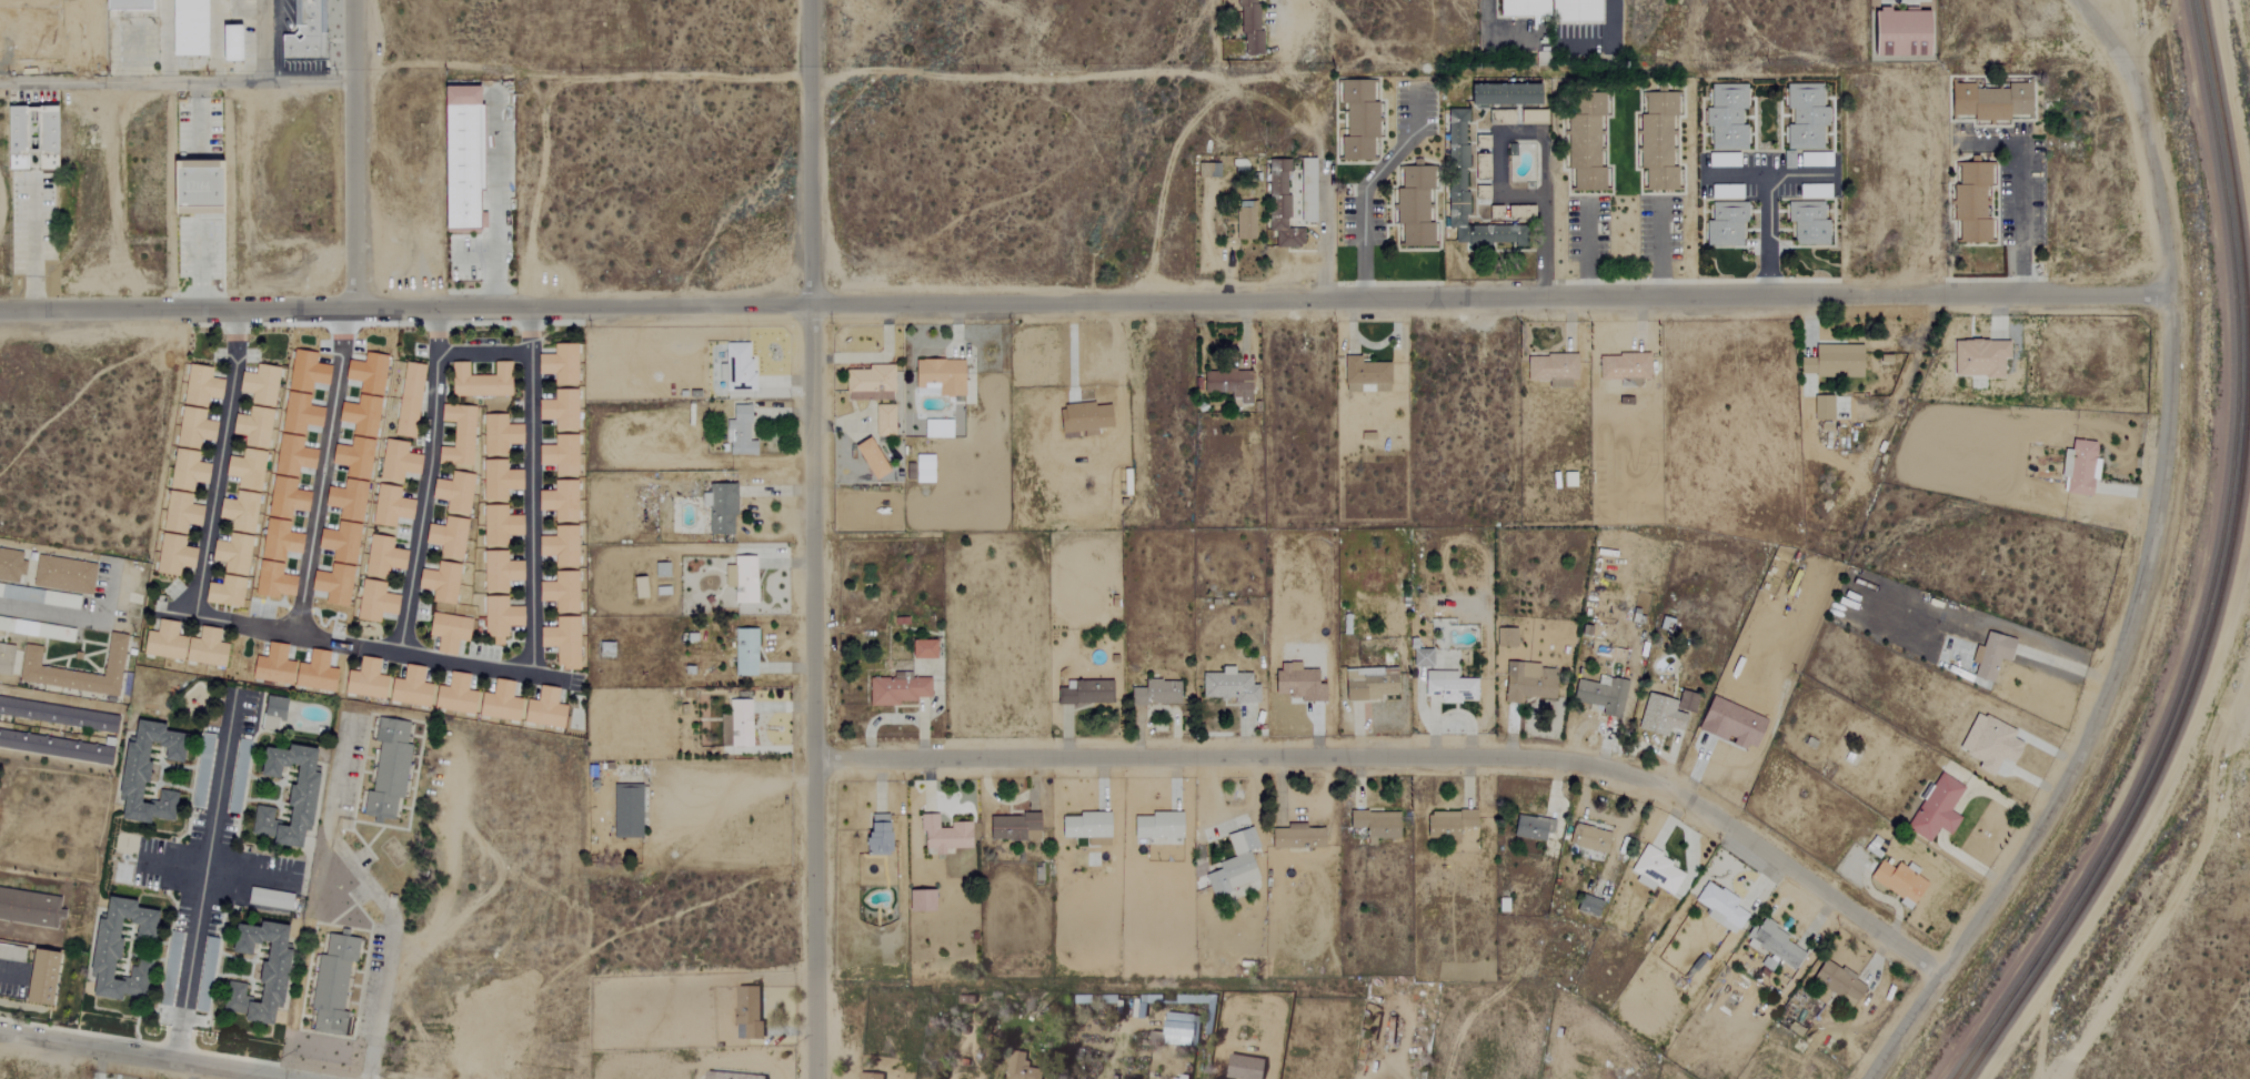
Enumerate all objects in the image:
building: (1549, 9)
road: (1273, 18)
building: (1247, 27)
building: (194, 28)
building: (1897, 32)
building: (309, 33)
building: (239, 43)
road: (1162, 71)
road: (175, 83)
road: (2236, 84)
building: (1499, 93)
building: (1989, 101)
building: (1530, 117)
building: (1725, 117)
building: (1804, 117)
road: (197, 118)
building: (1503, 118)
building: (1357, 121)
building: (38, 137)
building: (1583, 140)
building: (1656, 140)
building: (1479, 142)
road: (351, 154)
building: (470, 157)
building: (1814, 159)
building: (1720, 160)
building: (1455, 167)
building: (1479, 167)
road: (1767, 175)
building: (195, 184)
road: (1495, 184)
road: (1365, 185)
road: (2017, 189)
building: (1305, 190)
building: (1724, 191)
building: (1479, 192)
road: (498, 201)
building: (1970, 201)
building: (1412, 205)
building: (1278, 208)
building: (1493, 212)
building: (1518, 212)
road: (198, 215)
building: (1243, 220)
building: (1806, 222)
building: (1724, 223)
road: (1767, 238)
road: (32, 243)
parking lot: (197, 248)
road: (1587, 251)
road: (1657, 252)
road: (198, 265)
road: (1083, 302)
road: (1071, 351)
road: (481, 354)
building: (1977, 357)
building: (1831, 361)
building: (563, 364)
building: (736, 366)
building: (1623, 367)
building: (1550, 370)
building: (938, 375)
building: (1364, 375)
building: (484, 381)
building: (868, 383)
building: (1226, 383)
building: (263, 384)
building: (411, 400)
building: (1821, 409)
building: (563, 410)
building: (1081, 417)
building: (882, 420)
building: (935, 428)
building: (736, 432)
building: (502, 434)
building: (460, 435)
building: (563, 455)
building: (866, 457)
building: (400, 462)
road: (218, 464)
building: (2076, 467)
building: (923, 468)
building: (189, 471)
building: (502, 480)
building: (245, 488)
building: (456, 492)
railway: (2226, 497)
building: (563, 501)
railway: (2237, 501)
road: (2156, 502)
building: (393, 506)
building: (717, 508)
building: (502, 526)
building: (451, 536)
road: (811, 538)
building: (281, 541)
building: (563, 546)
building: (235, 554)
building: (385, 556)
building: (12, 566)
building: (659, 569)
building: (503, 572)
building: (66, 575)
building: (742, 579)
building: (275, 581)
building: (443, 582)
building: (337, 584)
building: (635, 587)
building: (228, 592)
building: (563, 592)
building: (378, 602)
road: (71, 616)
building: (503, 617)
building: (453, 632)
building: (1504, 637)
building: (566, 642)
building: (189, 645)
building: (922, 649)
road: (376, 652)
building: (743, 652)
building: (1991, 655)
building: (32, 656)
building: (6, 658)
building: (1420, 658)
road: (473, 665)
road: (2066, 667)
building: (297, 669)
road: (548, 677)
building: (369, 679)
building: (1527, 683)
building: (1296, 684)
building: (1366, 684)
building: (1227, 686)
building: (413, 687)
building: (1448, 688)
building: (894, 689)
building: (1084, 693)
building: (1154, 693)
building: (458, 695)
building: (1600, 696)
building: (1684, 702)
building: (503, 703)
building: (549, 709)
building: (277, 713)
building: (1658, 716)
building: (737, 723)
building: (1728, 724)
building: (1987, 744)
building: (207, 752)
road: (1407, 757)
building: (391, 770)
building: (152, 773)
building: (240, 777)
road: (736, 786)
building: (308, 795)
building: (1933, 809)
building: (625, 811)
road: (2149, 821)
building: (1374, 824)
building: (1447, 824)
building: (1155, 825)
building: (1012, 827)
building: (1084, 827)
building: (1530, 828)
building: (874, 834)
building: (941, 836)
building: (1294, 837)
building: (1588, 839)
road: (162, 864)
building: (1233, 864)
road: (251, 871)
building: (1655, 873)
road: (202, 877)
building: (1896, 883)
road: (372, 893)
building: (272, 899)
building: (917, 900)
building: (1586, 906)
building: (1719, 907)
building: (29, 908)
building: (1772, 944)
building: (124, 949)
building: (271, 968)
road: (10, 975)
building: (209, 975)
building: (47, 978)
building: (334, 981)
building: (1836, 984)
building: (743, 1012)
railway: (1993, 1018)
railway: (2003, 1020)
road: (1904, 1026)
building: (1174, 1029)
road: (137, 1056)
building: (1016, 1068)
building: (1238, 1068)
building: (724, 1076)
building: (863, 1076)

